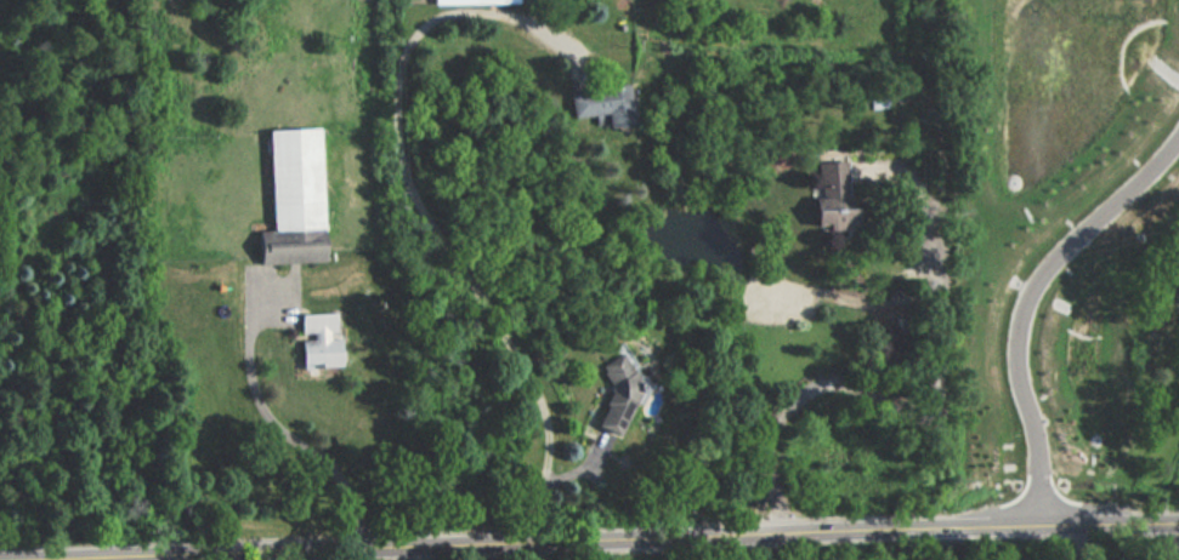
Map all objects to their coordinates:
building: (470, 1)
building: (599, 105)
building: (832, 196)
building: (290, 199)
road: (423, 213)
road: (1028, 302)
building: (316, 339)
building: (614, 395)
road: (908, 411)
road: (291, 438)
road: (603, 541)
road: (1145, 542)
road: (1076, 543)

